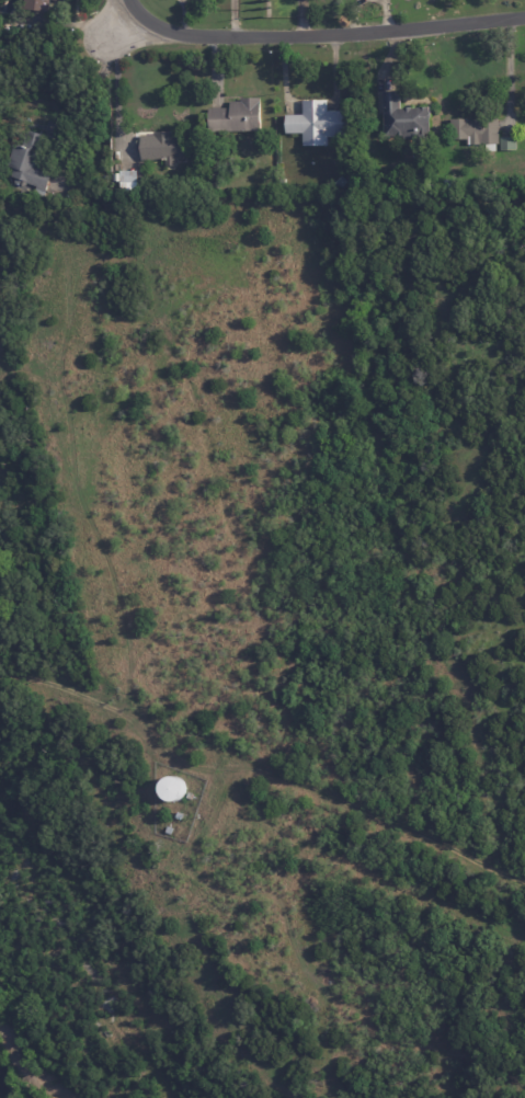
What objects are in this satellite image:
building: (64, 0)
building: (42, 4)
road: (307, 24)
road: (116, 85)
building: (239, 117)
building: (403, 118)
building: (319, 122)
building: (480, 133)
building: (512, 144)
building: (164, 148)
building: (32, 164)
building: (500, 180)
building: (130, 184)
building: (351, 184)
building: (215, 185)
building: (449, 185)
building: (27, 194)
building: (167, 788)
building: (181, 815)
building: (170, 830)

